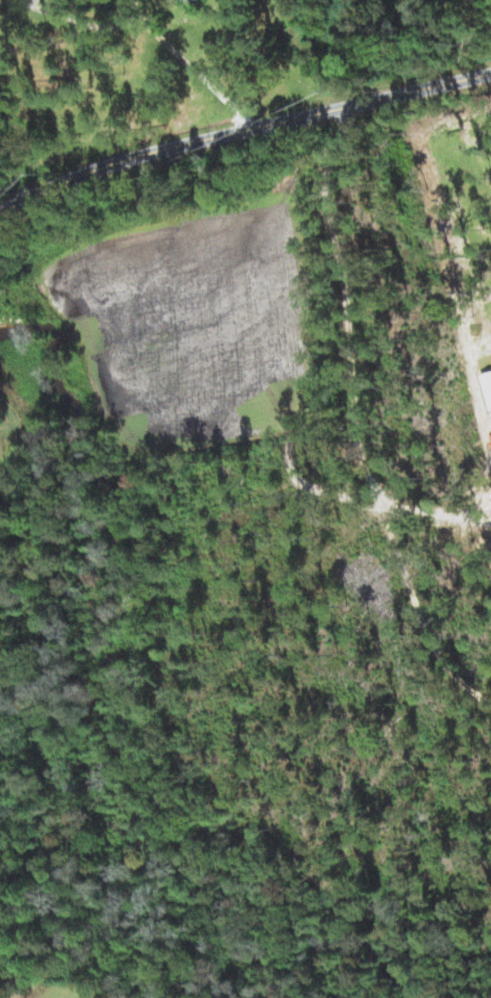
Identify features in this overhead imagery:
road: (184, 62)
road: (240, 119)
park: (3, 443)
park: (35, 986)

